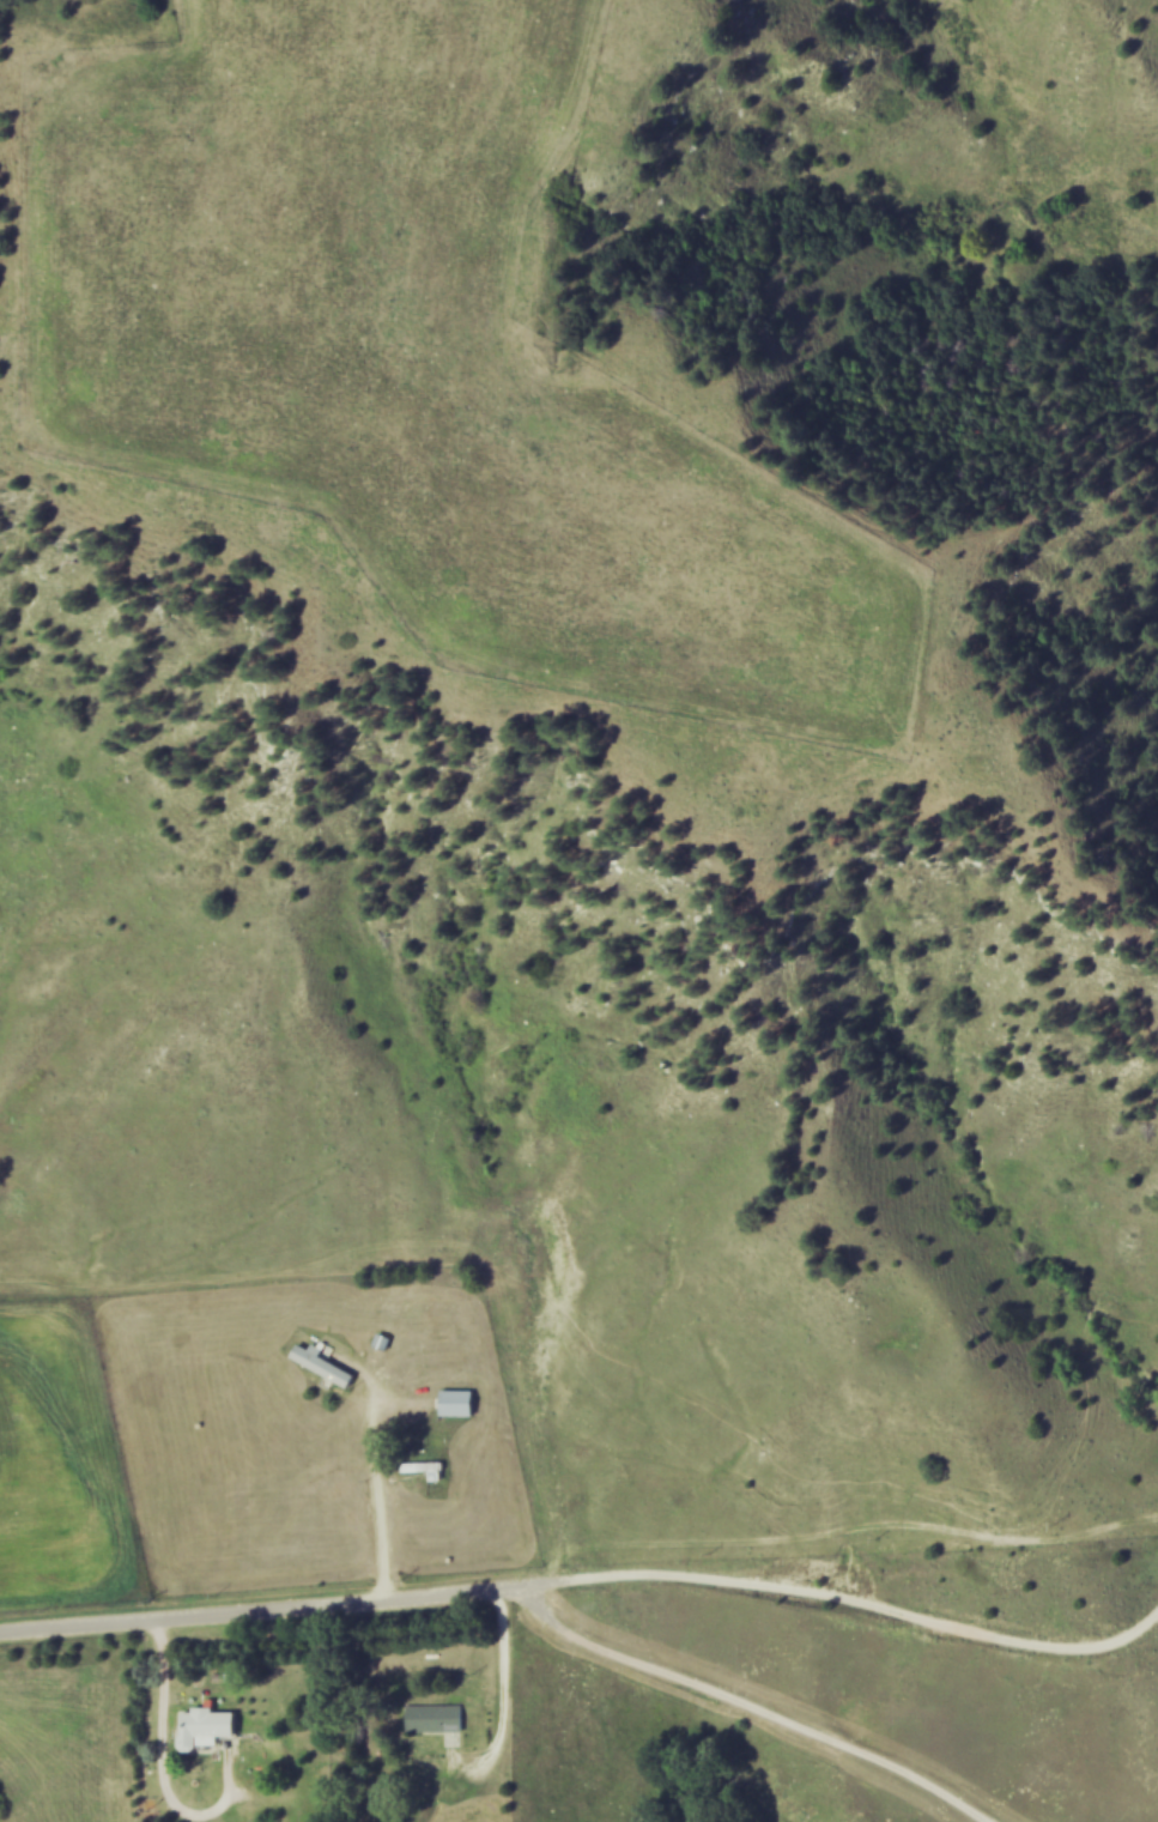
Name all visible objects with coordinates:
building: (326, 1362)
building: (462, 1400)
building: (430, 1467)
road: (369, 1475)
road: (847, 1611)
road: (261, 1612)
road: (744, 1712)
building: (439, 1715)
road: (499, 1719)
building: (210, 1724)
road: (169, 1760)

